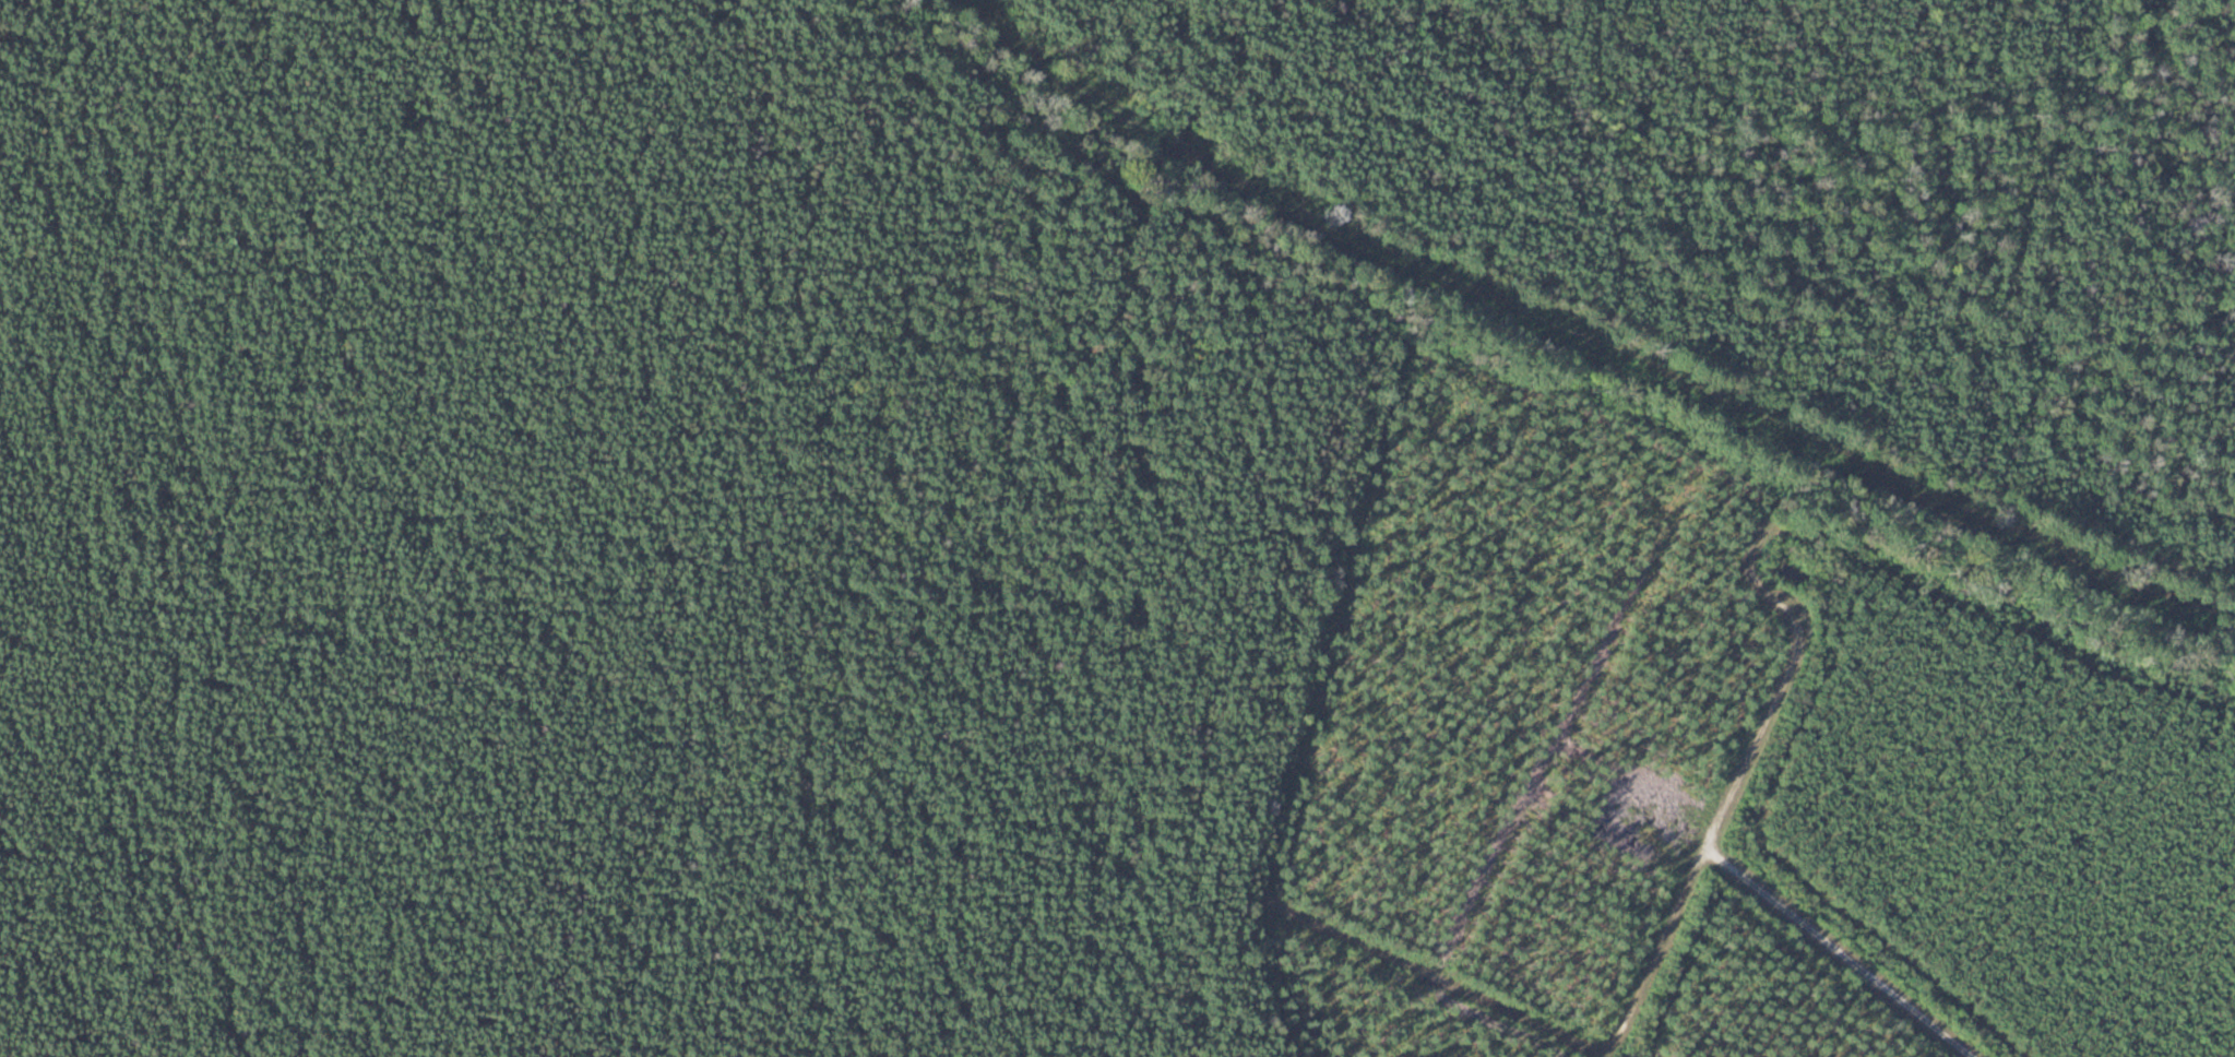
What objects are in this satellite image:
road: (1768, 855)

